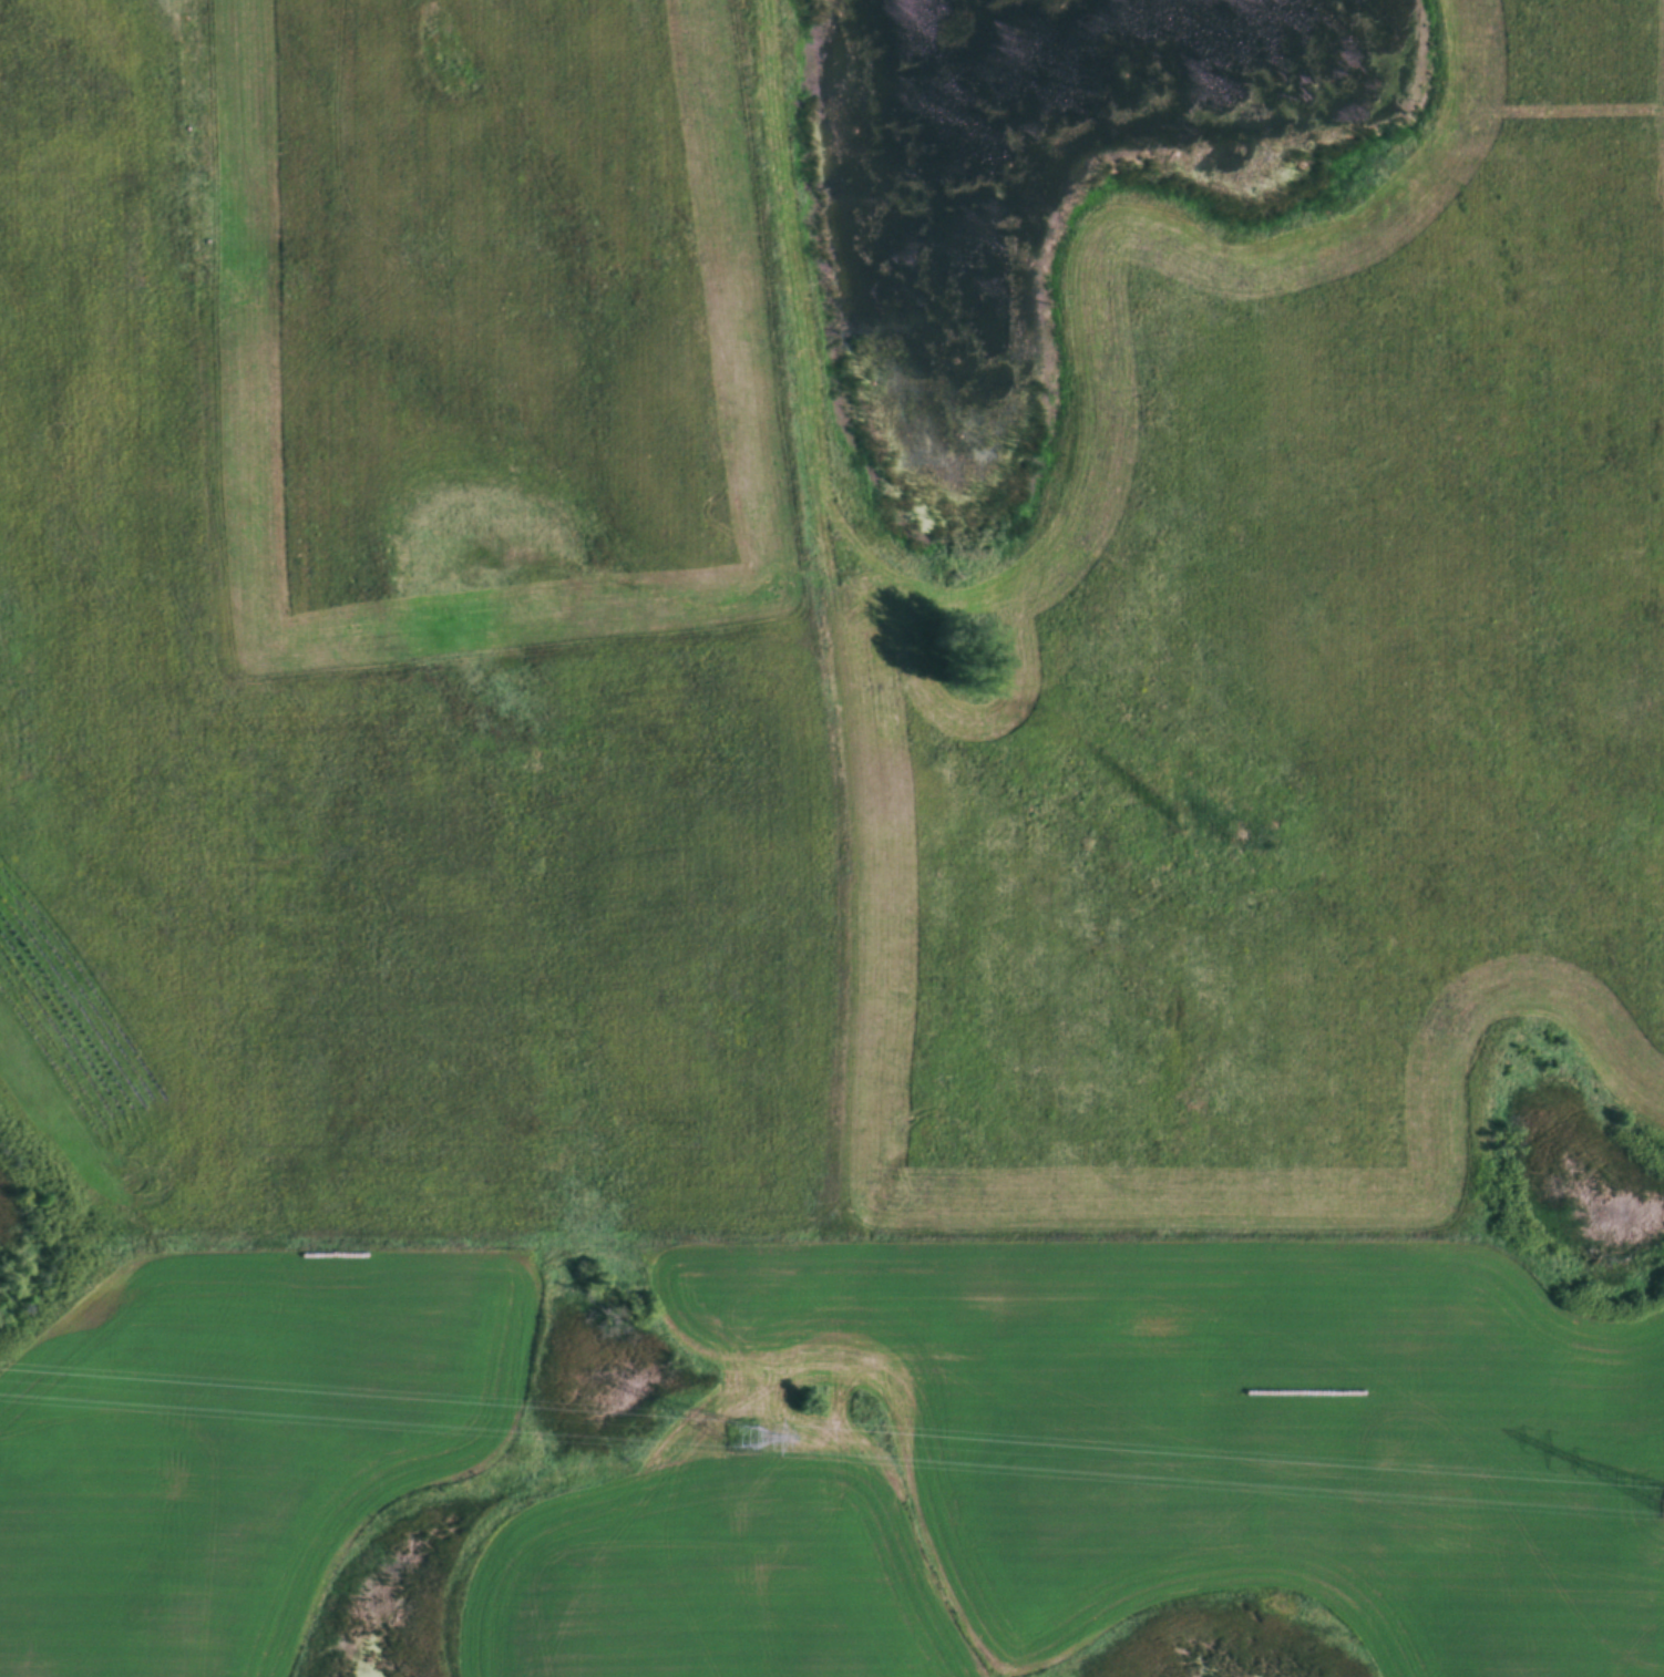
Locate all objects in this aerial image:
power tower: (732, 1441)

